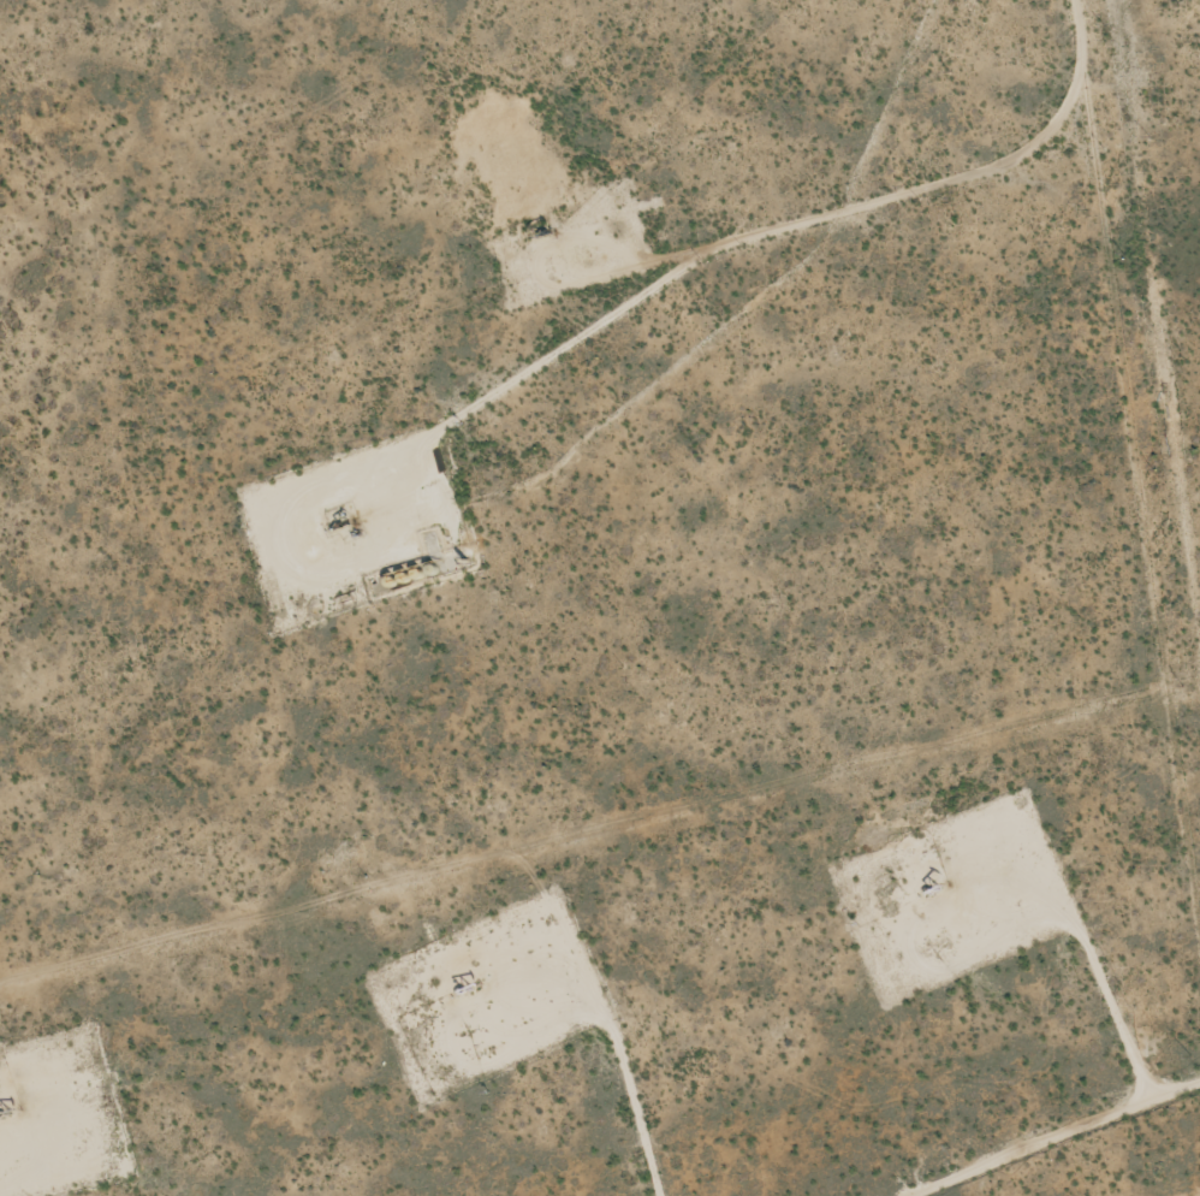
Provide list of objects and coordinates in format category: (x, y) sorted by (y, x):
road: (778, 231)
road: (1057, 1149)

